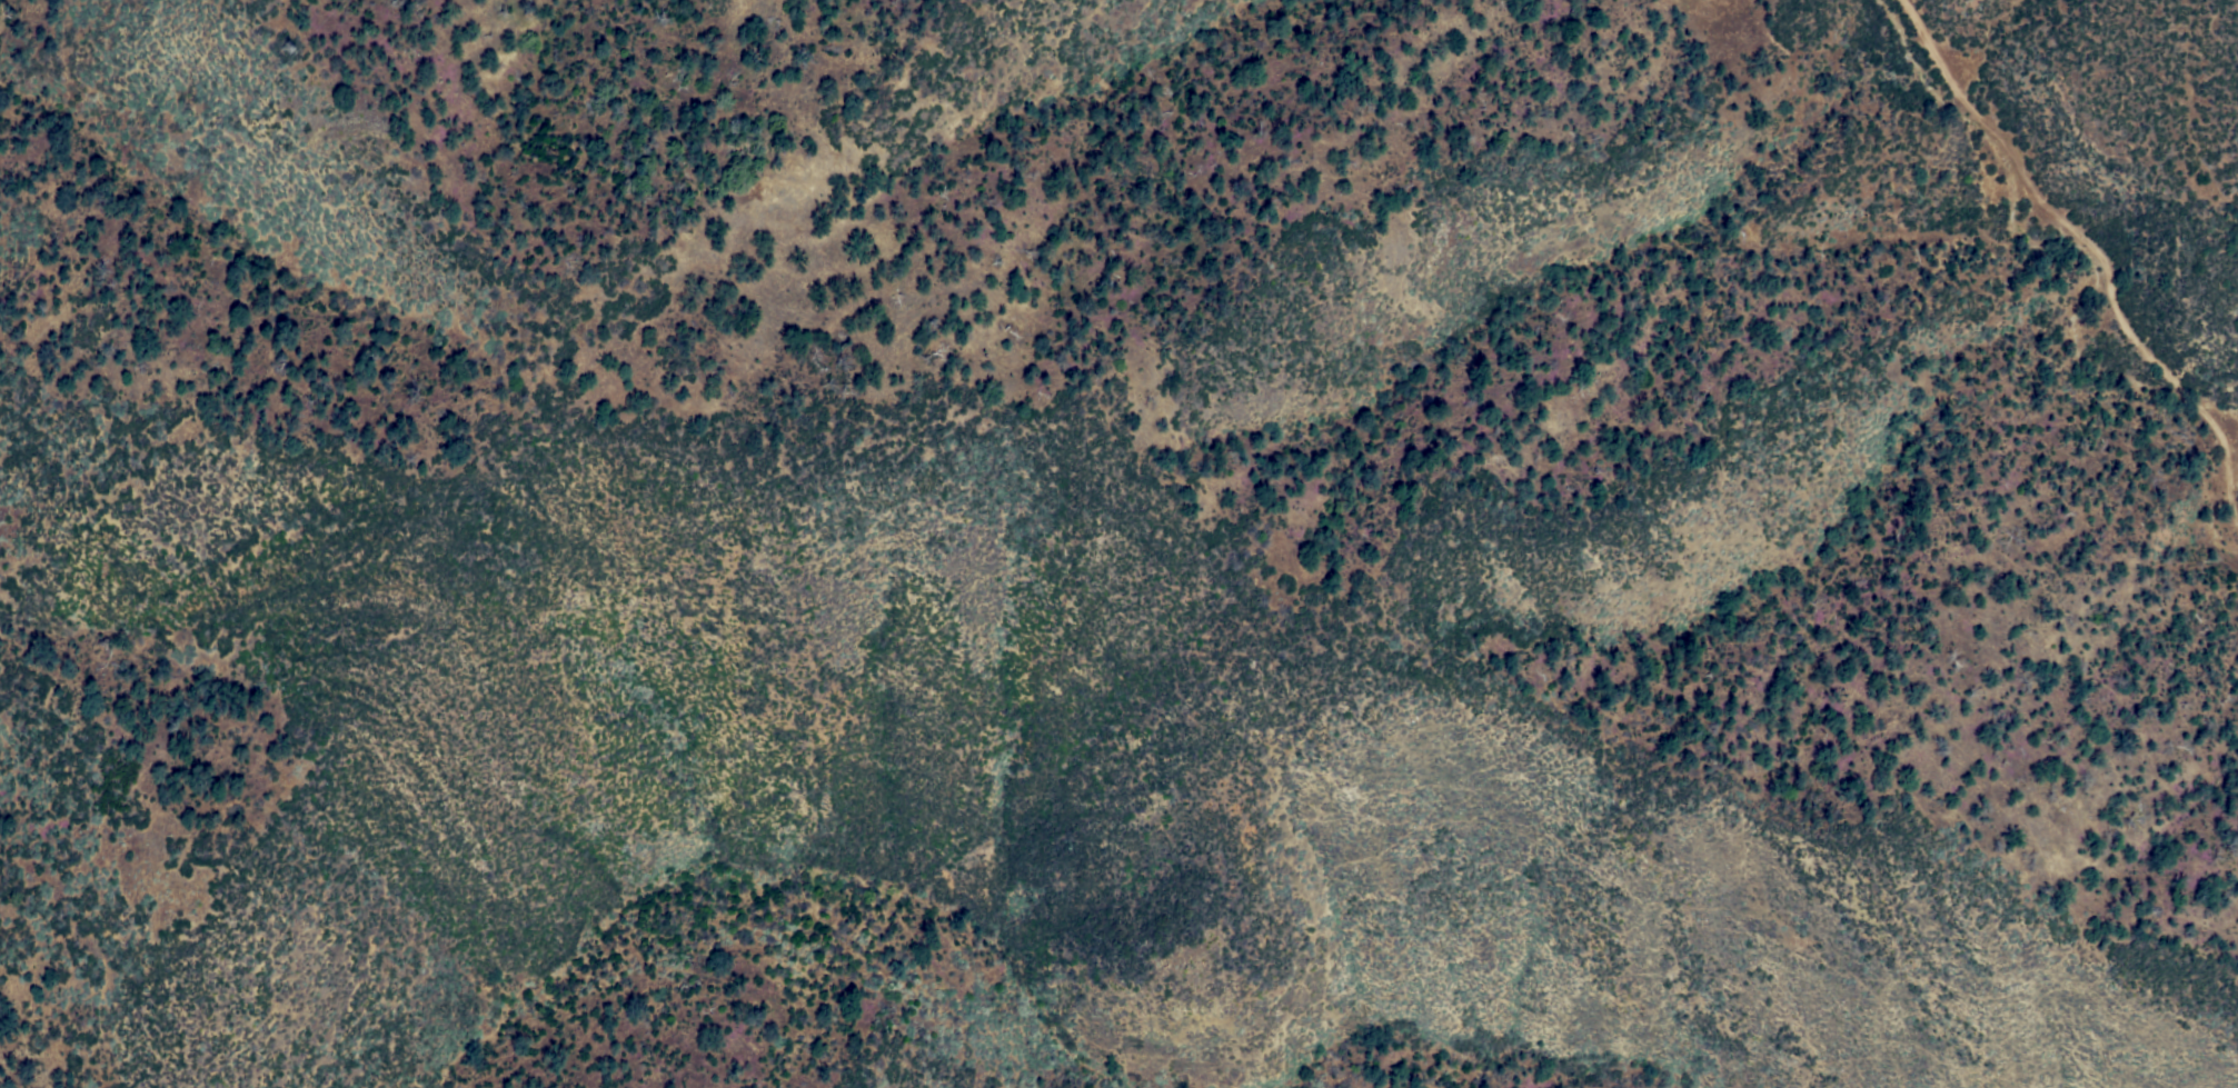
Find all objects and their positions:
road: (2098, 254)

